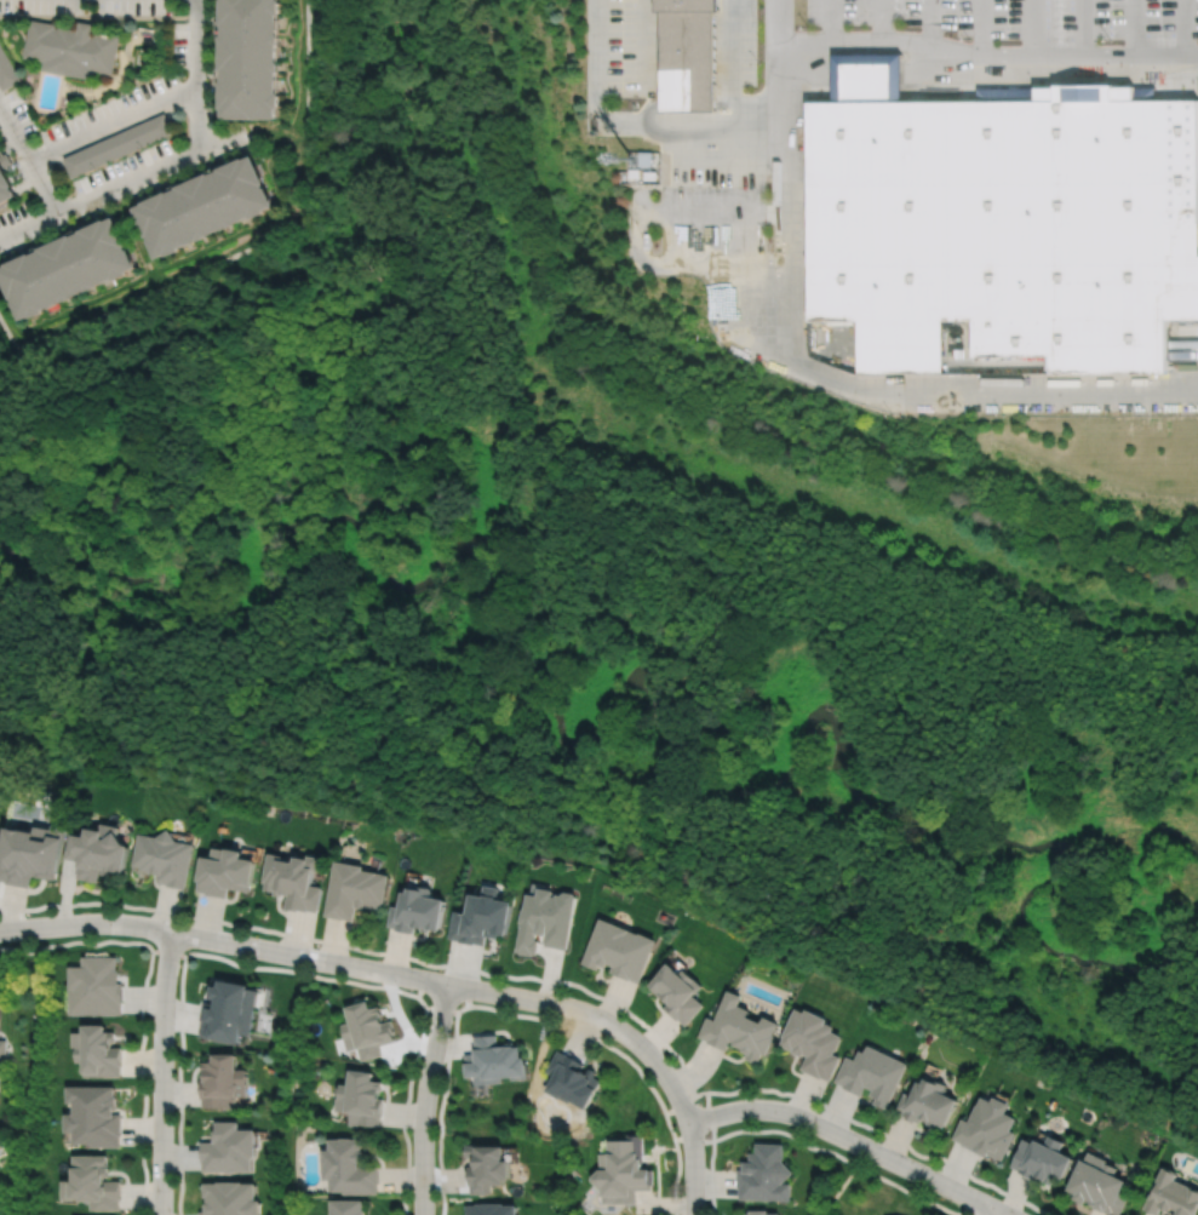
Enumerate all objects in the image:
parking lot: (1021, 17)
road: (831, 21)
road: (881, 21)
road: (930, 23)
road: (984, 28)
road: (1030, 28)
road: (1083, 28)
road: (1134, 28)
road: (1182, 28)
building: (73, 48)
building: (686, 55)
road: (987, 57)
building: (250, 58)
road: (647, 61)
building: (6, 70)
road: (199, 75)
building: (871, 79)
building: (1009, 94)
building: (1147, 94)
road: (757, 121)
road: (665, 122)
road: (113, 124)
parking lot: (701, 139)
building: (116, 144)
road: (29, 160)
road: (727, 160)
building: (641, 165)
road: (780, 179)
road: (121, 184)
building: (6, 188)
road: (512, 200)
building: (206, 207)
building: (1009, 228)
road: (643, 234)
building: (68, 269)
road: (988, 392)
road: (489, 432)
road: (879, 514)
building: (97, 853)
building: (29, 854)
building: (165, 859)
building: (225, 873)
building: (294, 881)
building: (351, 890)
building: (414, 911)
building: (480, 918)
building: (544, 921)
building: (618, 951)
road: (168, 953)
road: (283, 969)
road: (369, 969)
road: (563, 981)
road: (469, 986)
building: (94, 988)
building: (677, 993)
road: (142, 1004)
road: (440, 1007)
building: (230, 1014)
road: (527, 1015)
building: (738, 1030)
building: (365, 1031)
building: (813, 1043)
building: (2, 1050)
building: (97, 1053)
building: (492, 1061)
road: (161, 1072)
building: (872, 1076)
building: (569, 1081)
building: (223, 1083)
road: (424, 1097)
building: (359, 1100)
road: (678, 1104)
building: (927, 1104)
building: (93, 1114)
road: (709, 1116)
building: (985, 1128)
road: (692, 1139)
road: (852, 1140)
road: (803, 1144)
building: (229, 1147)
building: (1042, 1156)
building: (348, 1165)
building: (485, 1168)
road: (693, 1168)
building: (621, 1170)
building: (764, 1175)
building: (92, 1181)
building: (1099, 1182)
building: (1173, 1193)
building: (231, 1198)
building: (348, 1207)
building: (489, 1208)
building: (761, 1211)
road: (990, 1211)
building: (1167, 1214)

